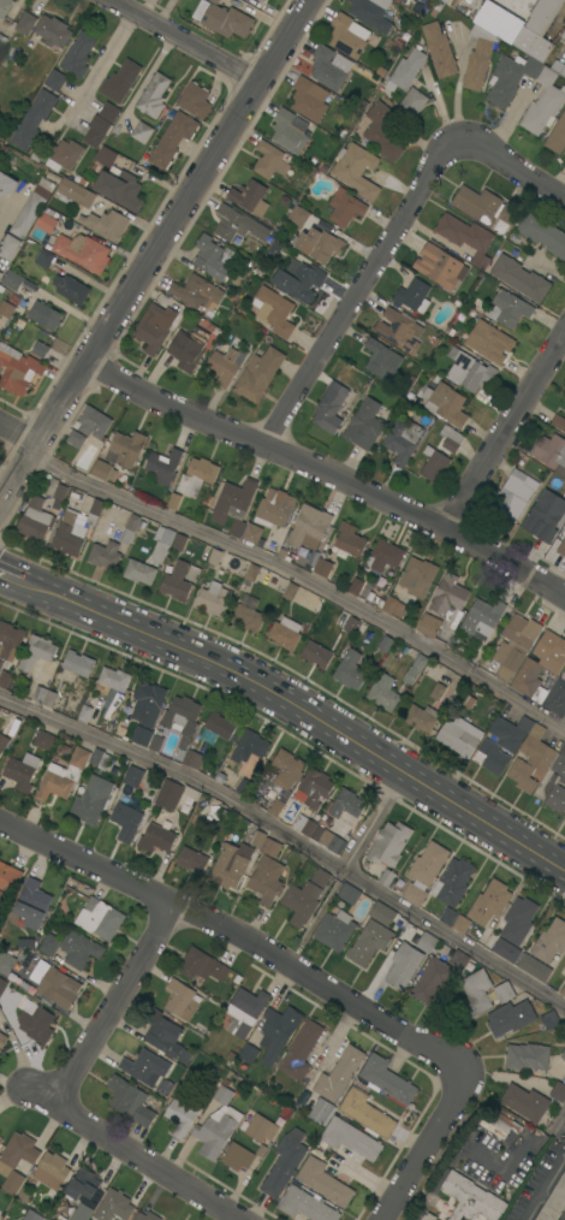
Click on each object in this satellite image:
building: (263, 0)
building: (215, 1)
building: (430, 1)
building: (5, 7)
building: (369, 10)
road: (165, 12)
building: (222, 19)
building: (26, 23)
building: (499, 23)
building: (539, 30)
building: (53, 31)
building: (349, 36)
road: (183, 39)
building: (2, 41)
building: (439, 51)
building: (78, 55)
building: (557, 57)
building: (478, 58)
road: (101, 64)
building: (327, 69)
building: (405, 71)
building: (510, 78)
building: (55, 81)
building: (120, 81)
building: (154, 96)
building: (195, 100)
building: (308, 100)
building: (412, 102)
building: (543, 103)
building: (34, 119)
building: (101, 124)
building: (290, 131)
building: (382, 131)
building: (142, 132)
building: (557, 136)
building: (172, 140)
building: (64, 155)
building: (106, 156)
building: (270, 160)
road: (511, 167)
building: (357, 171)
building: (6, 184)
building: (120, 189)
building: (250, 197)
building: (32, 207)
building: (345, 207)
building: (484, 207)
building: (94, 212)
building: (298, 217)
building: (46, 223)
building: (238, 225)
building: (542, 233)
building: (466, 237)
building: (320, 244)
building: (8, 247)
road: (153, 248)
building: (83, 251)
building: (44, 257)
building: (212, 257)
building: (439, 266)
building: (0, 273)
building: (521, 278)
building: (13, 280)
building: (303, 280)
building: (71, 289)
road: (356, 291)
building: (197, 292)
building: (414, 296)
building: (508, 308)
building: (6, 309)
building: (274, 310)
building: (46, 315)
building: (397, 326)
building: (154, 328)
building: (492, 344)
building: (41, 349)
building: (186, 350)
building: (382, 360)
building: (226, 365)
building: (18, 369)
building: (468, 371)
building: (258, 374)
building: (446, 403)
building: (331, 408)
building: (93, 422)
building: (559, 422)
building: (364, 425)
road: (504, 428)
road: (18, 431)
building: (76, 439)
building: (402, 439)
building: (451, 439)
building: (125, 449)
building: (552, 452)
building: (434, 464)
building: (163, 466)
building: (101, 469)
road: (327, 472)
building: (197, 476)
road: (25, 490)
building: (60, 492)
building: (513, 496)
building: (233, 501)
building: (274, 508)
building: (94, 513)
building: (545, 516)
building: (35, 520)
building: (564, 526)
building: (237, 528)
building: (309, 528)
building: (130, 529)
building: (252, 533)
building: (70, 534)
building: (350, 539)
building: (179, 543)
building: (162, 544)
building: (561, 549)
building: (385, 555)
building: (105, 556)
building: (323, 567)
building: (139, 571)
building: (192, 573)
building: (252, 573)
road: (11, 574)
building: (417, 576)
road: (302, 578)
building: (177, 581)
building: (356, 587)
building: (291, 591)
building: (448, 594)
building: (214, 599)
building: (394, 608)
building: (483, 617)
building: (248, 618)
building: (351, 626)
building: (428, 626)
building: (285, 633)
building: (10, 640)
building: (387, 644)
building: (516, 645)
building: (36, 653)
building: (316, 655)
building: (1, 663)
building: (78, 663)
building: (540, 667)
building: (416, 669)
building: (350, 670)
building: (5, 679)
building: (114, 679)
building: (383, 692)
building: (436, 692)
building: (44, 697)
building: (555, 698)
building: (148, 704)
building: (84, 712)
road: (301, 715)
building: (182, 718)
building: (421, 718)
building: (219, 727)
building: (142, 736)
building: (459, 736)
building: (44, 740)
building: (4, 742)
building: (155, 742)
building: (501, 742)
building: (249, 746)
building: (537, 750)
building: (63, 751)
building: (100, 758)
building: (192, 759)
building: (286, 770)
building: (22, 771)
building: (63, 776)
building: (133, 776)
building: (523, 776)
building: (557, 784)
building: (314, 788)
building: (168, 795)
building: (93, 799)
building: (347, 804)
building: (275, 807)
building: (126, 821)
building: (307, 823)
road: (373, 823)
road: (291, 837)
building: (156, 839)
building: (332, 841)
building: (389, 843)
building: (270, 848)
building: (192, 860)
building: (234, 861)
building: (424, 872)
building: (321, 878)
building: (387, 878)
building: (267, 880)
building: (453, 882)
building: (7, 883)
building: (350, 894)
building: (302, 902)
building: (489, 902)
building: (32, 905)
building: (382, 913)
building: (448, 917)
building: (100, 918)
building: (519, 920)
building: (462, 924)
building: (335, 930)
road: (237, 936)
building: (551, 941)
building: (24, 942)
building: (369, 942)
building: (427, 942)
building: (49, 944)
building: (79, 949)
building: (506, 950)
building: (459, 960)
building: (6, 961)
building: (202, 966)
building: (404, 966)
building: (535, 967)
building: (564, 971)
building: (433, 979)
building: (55, 984)
building: (2, 985)
building: (504, 991)
building: (563, 991)
building: (476, 993)
building: (182, 1000)
road: (111, 1002)
building: (244, 1012)
building: (511, 1018)
building: (549, 1019)
building: (36, 1025)
building: (278, 1031)
building: (166, 1037)
building: (2, 1040)
building: (302, 1050)
building: (249, 1053)
building: (564, 1055)
building: (528, 1056)
building: (145, 1067)
building: (339, 1074)
building: (387, 1080)
building: (558, 1091)
building: (131, 1101)
building: (525, 1102)
building: (321, 1111)
building: (367, 1114)
building: (183, 1115)
building: (501, 1125)
building: (218, 1126)
building: (260, 1129)
building: (0, 1139)
building: (350, 1139)
road: (422, 1151)
building: (18, 1153)
building: (237, 1156)
road: (143, 1161)
building: (285, 1162)
building: (52, 1171)
building: (325, 1181)
road: (541, 1181)
building: (13, 1183)
building: (83, 1184)
building: (471, 1198)
building: (554, 1202)
building: (118, 1203)
building: (307, 1206)
building: (82, 1213)
building: (32, 1215)
building: (147, 1216)
building: (428, 1216)

